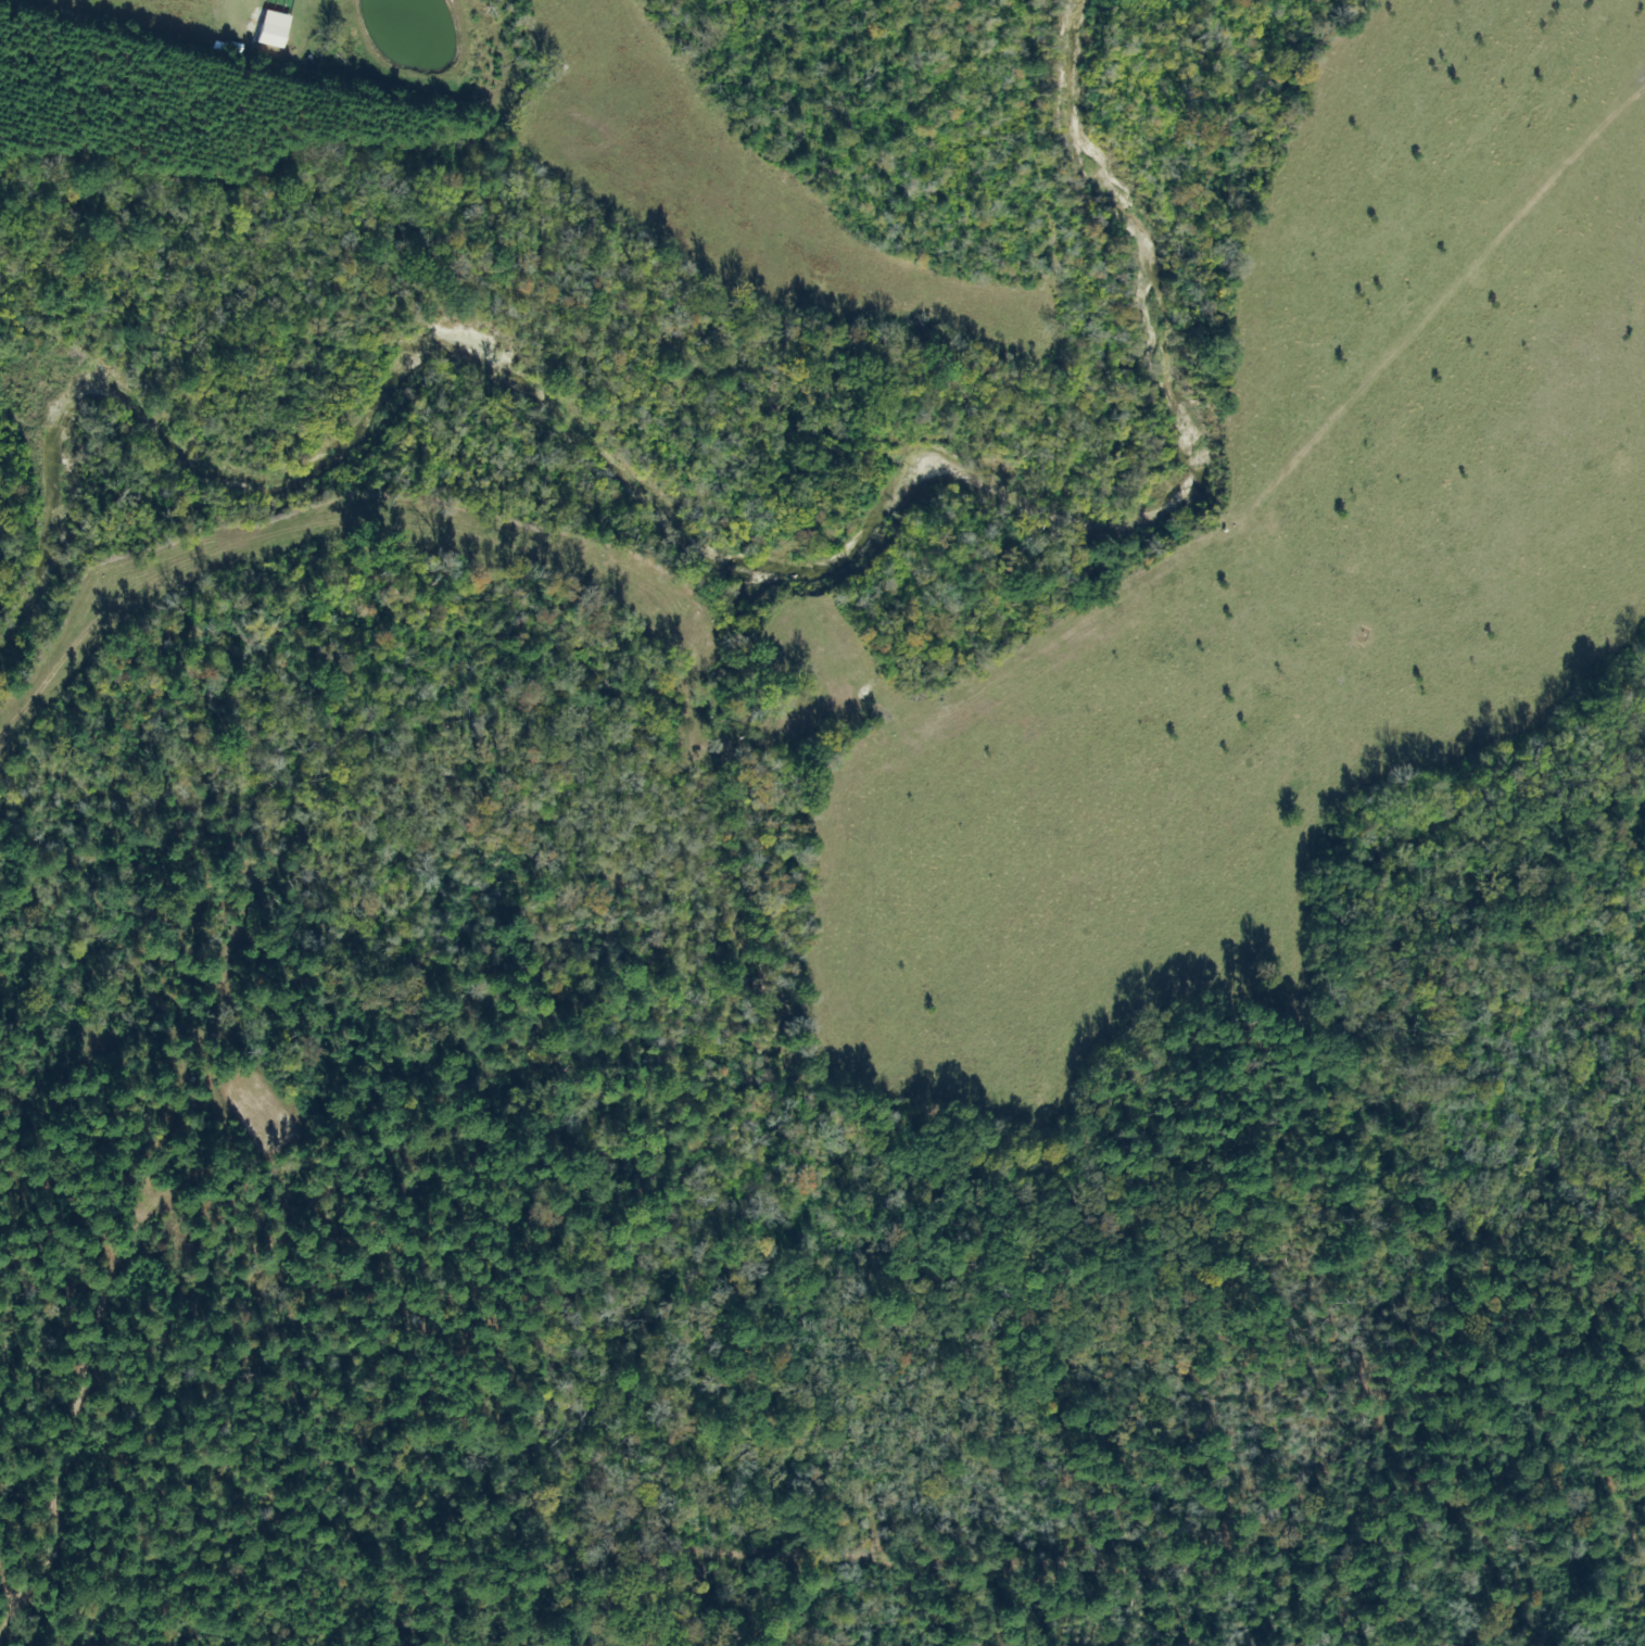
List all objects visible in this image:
road: (191, 62)

